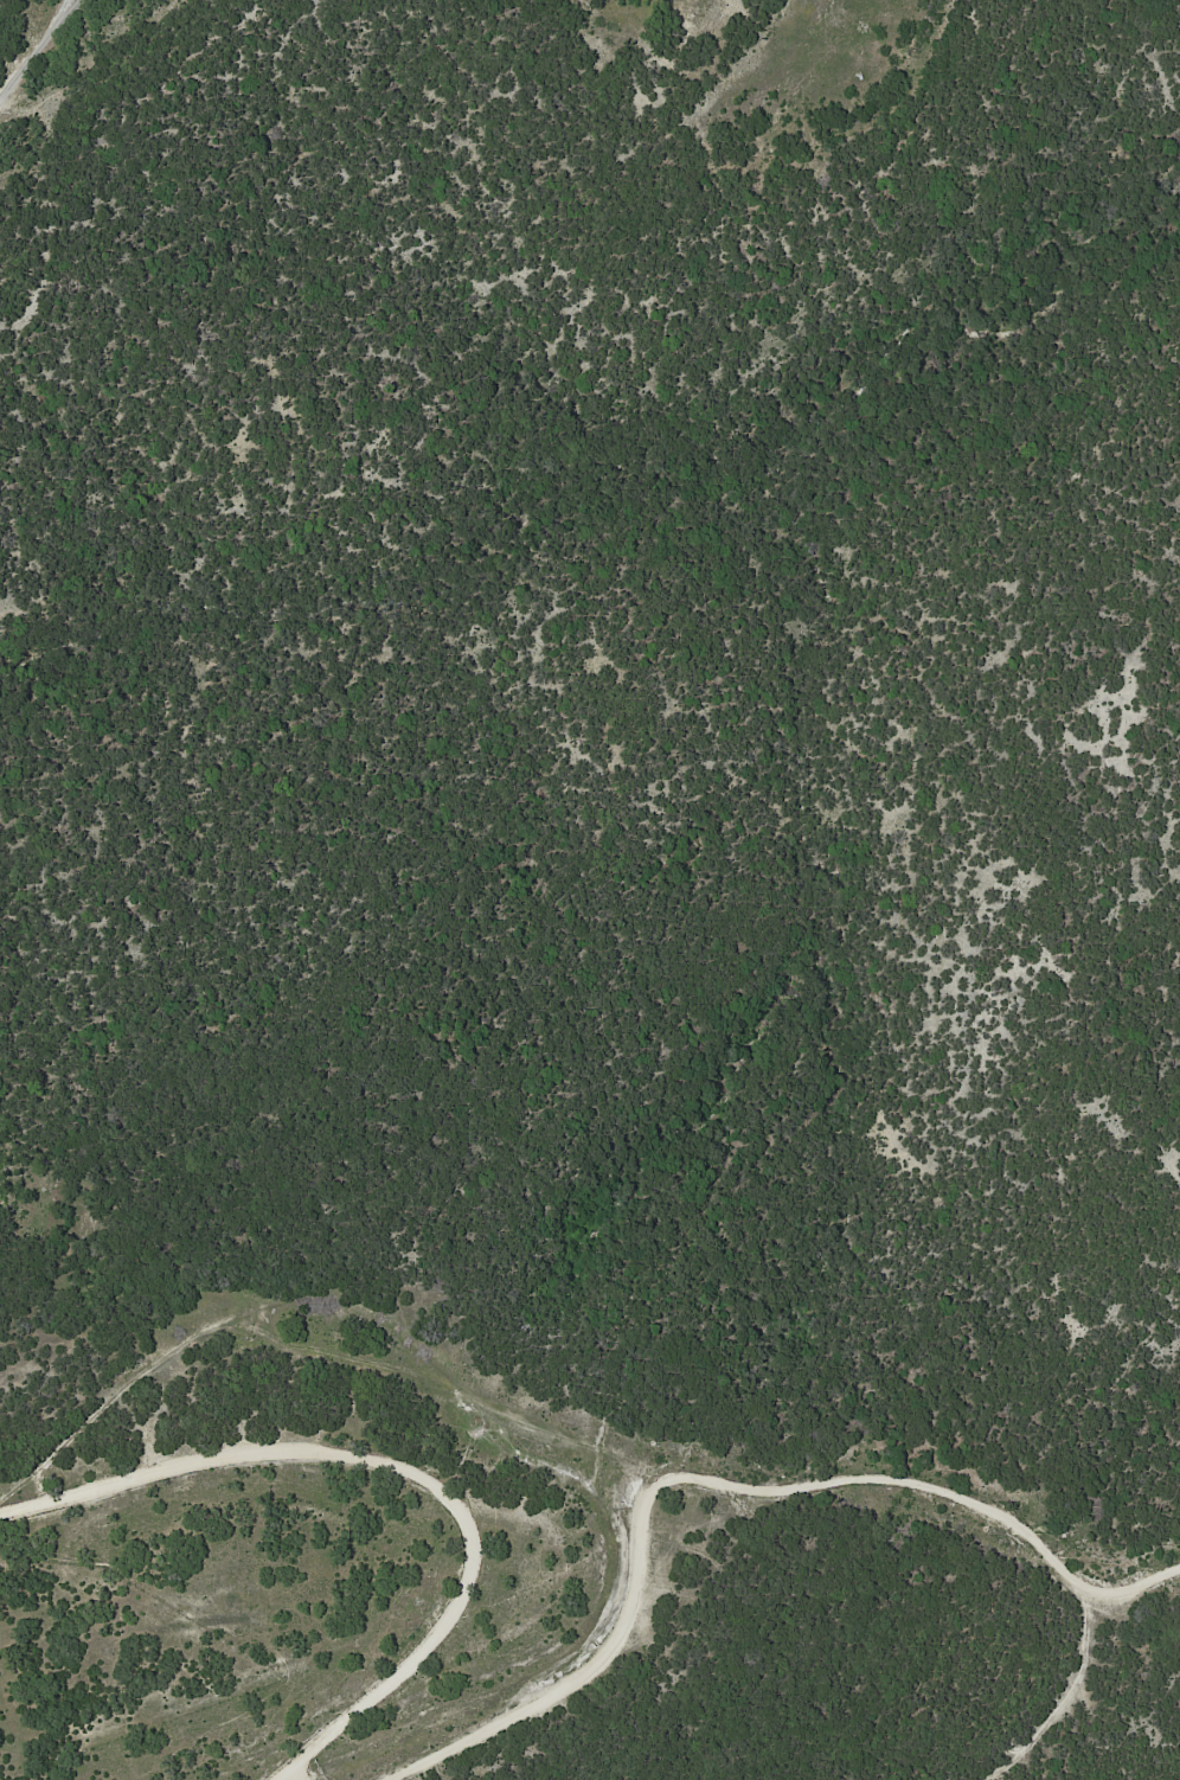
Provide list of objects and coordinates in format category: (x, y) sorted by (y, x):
road: (40, 47)
road: (405, 1474)

